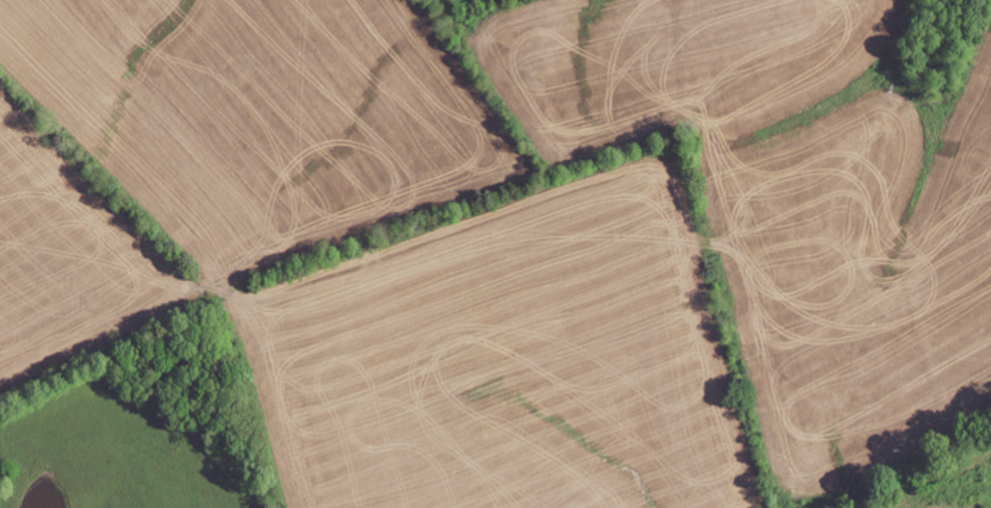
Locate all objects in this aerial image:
road: (799, 507)

